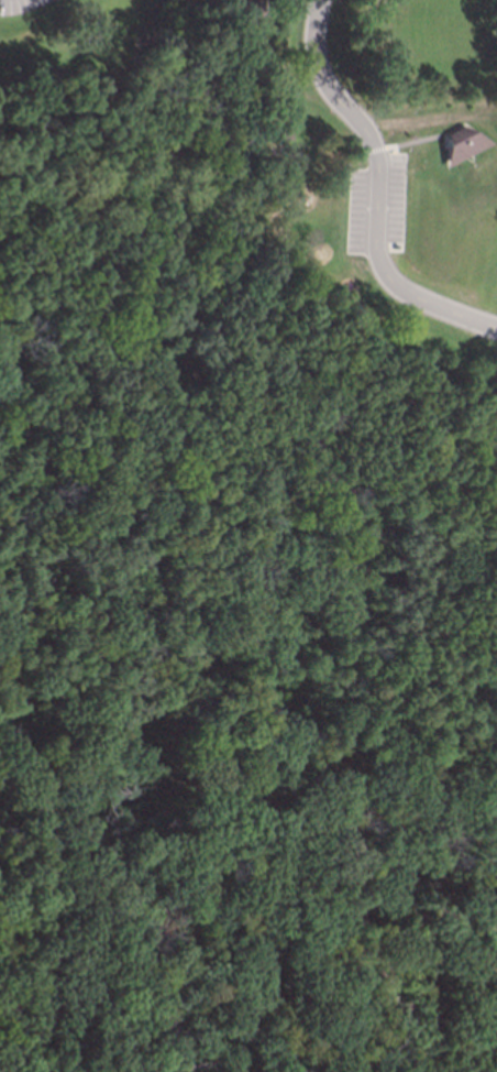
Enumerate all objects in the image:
building: (278, 134)
road: (409, 142)
building: (456, 143)
road: (377, 192)
parking lot: (376, 201)
road: (188, 281)
road: (110, 360)
road: (303, 441)
park: (230, 516)
road: (251, 770)
road: (262, 918)
road: (67, 1022)

